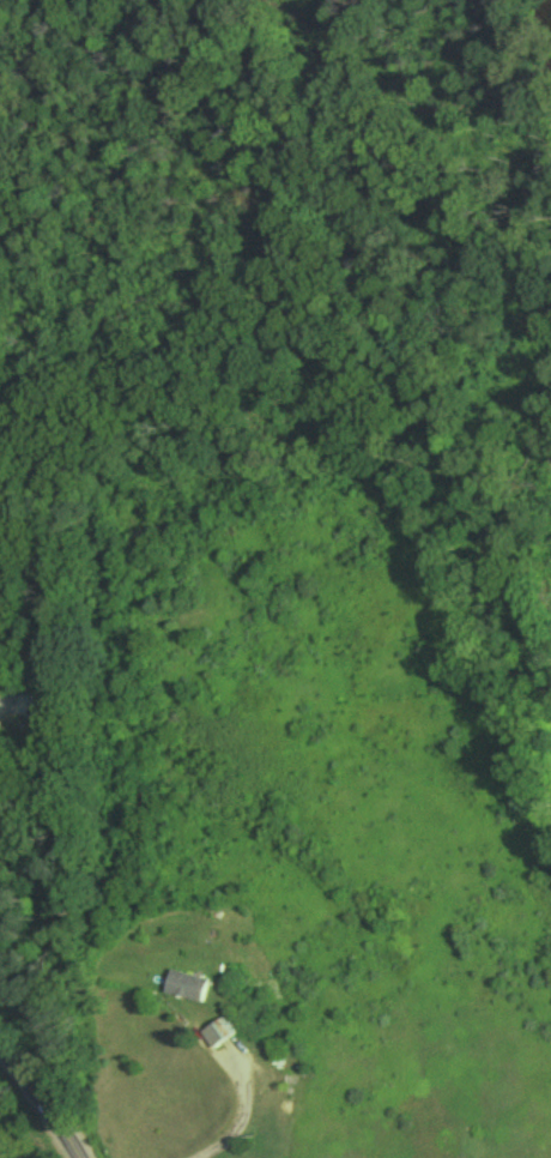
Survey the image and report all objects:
building: (0, 651)
building: (184, 990)
building: (217, 1037)
road: (44, 1099)
road: (242, 1115)

